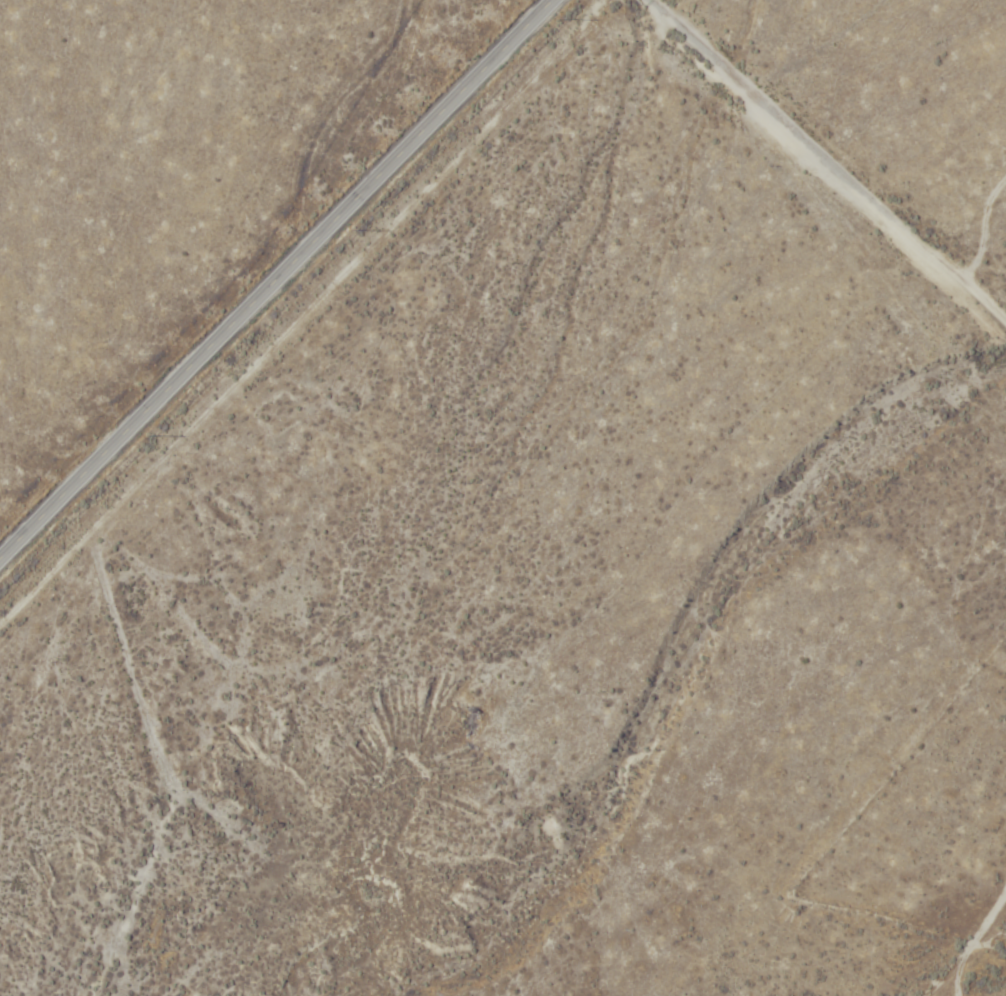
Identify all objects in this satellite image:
road: (772, 215)
road: (276, 280)
road: (980, 729)

